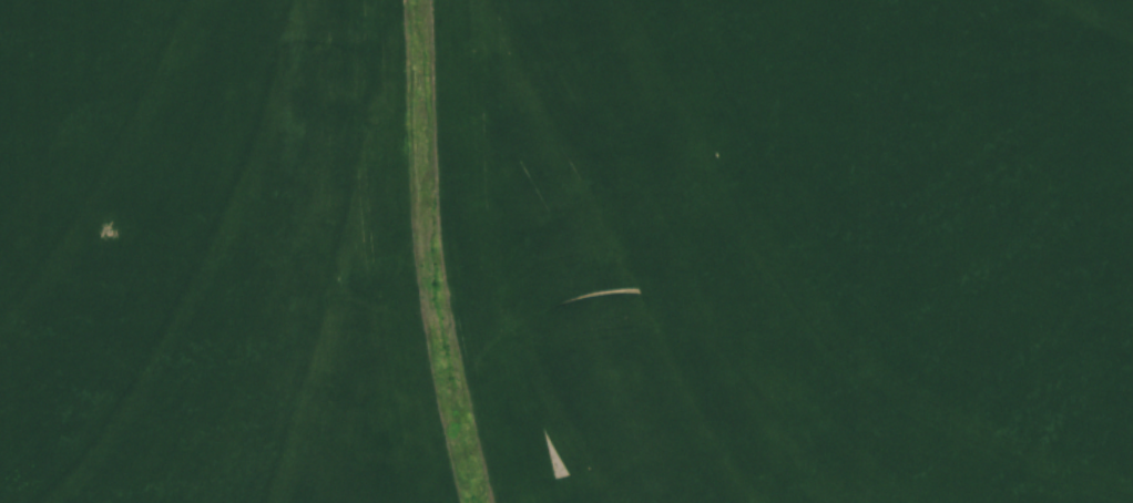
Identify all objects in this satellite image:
crop: (566, 251)

